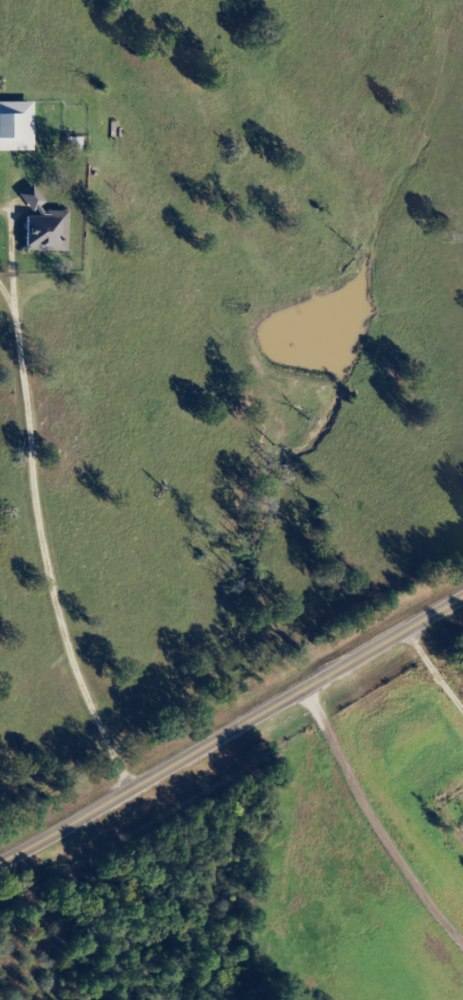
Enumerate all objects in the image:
building: (17, 127)
building: (76, 145)
building: (46, 227)
road: (232, 729)

